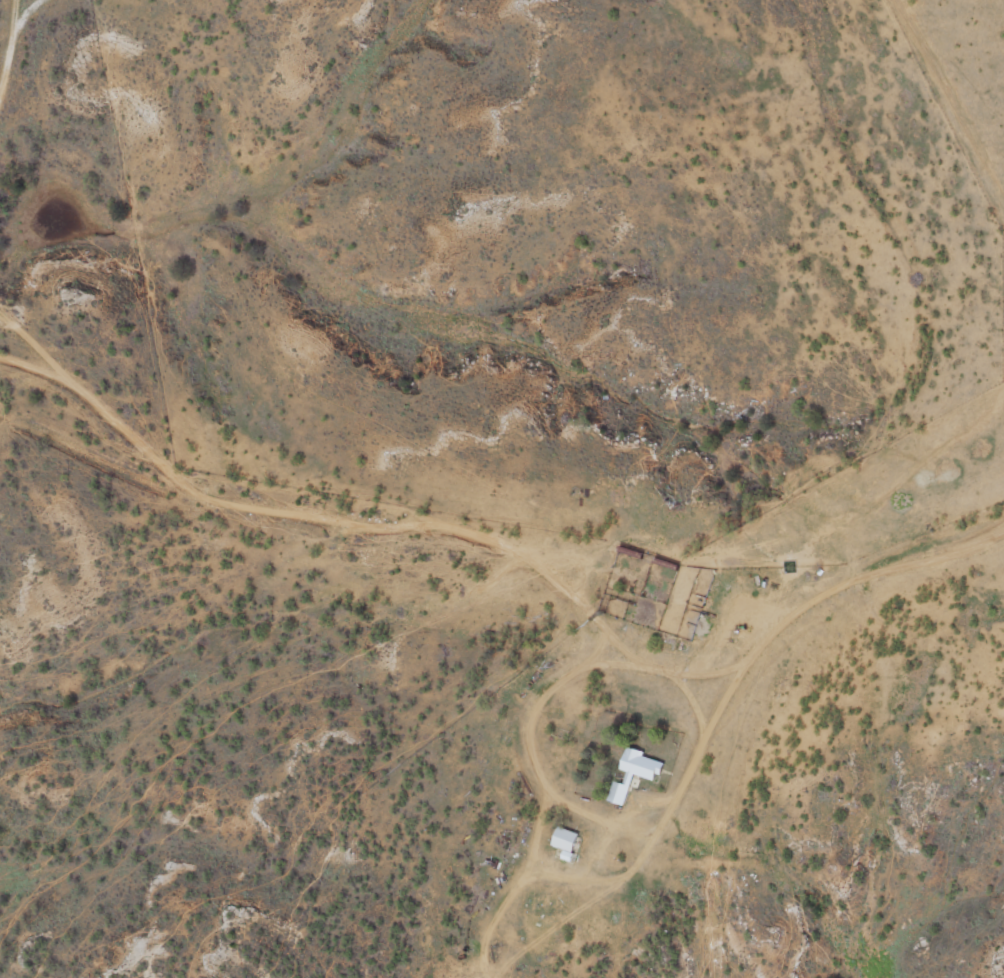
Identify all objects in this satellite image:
road: (11, 39)
road: (898, 277)
road: (24, 359)
road: (361, 526)
road: (731, 681)
building: (635, 774)
building: (568, 843)

